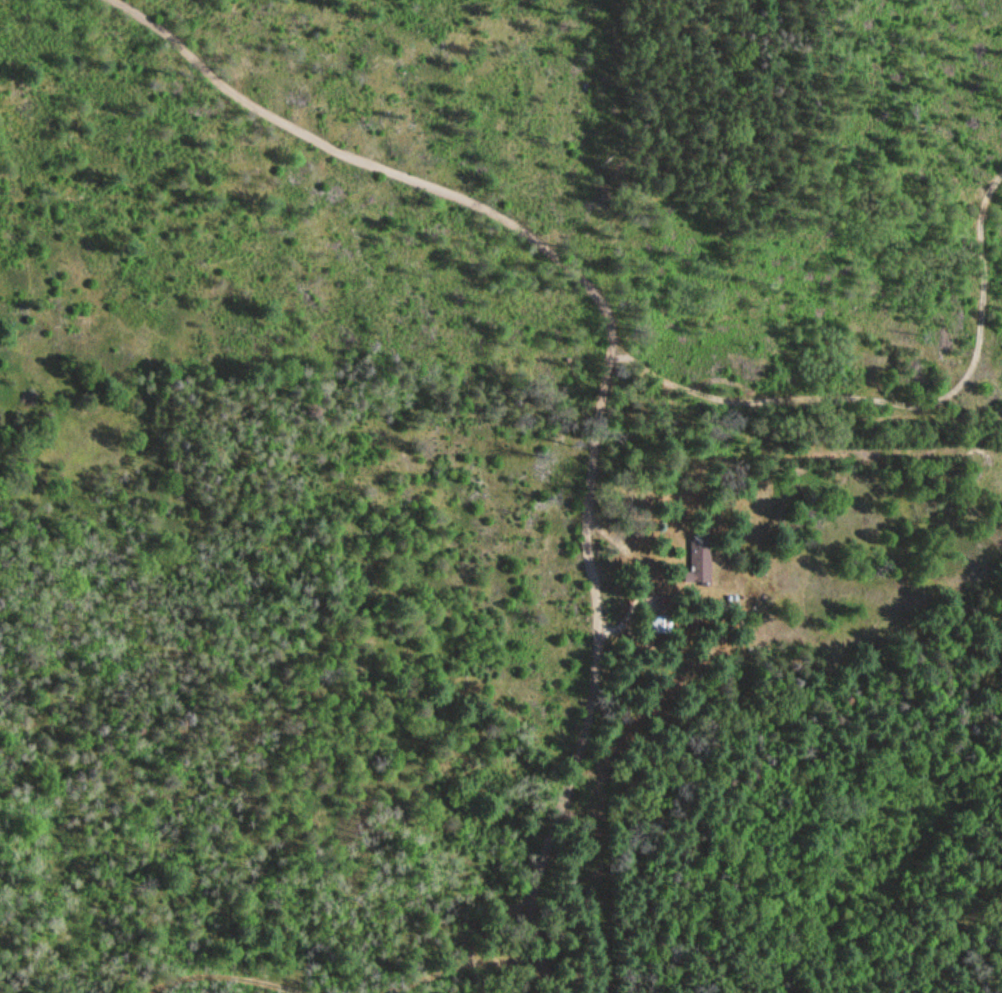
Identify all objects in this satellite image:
road: (597, 371)
building: (695, 562)
building: (654, 624)
road: (510, 966)
road: (330, 983)

